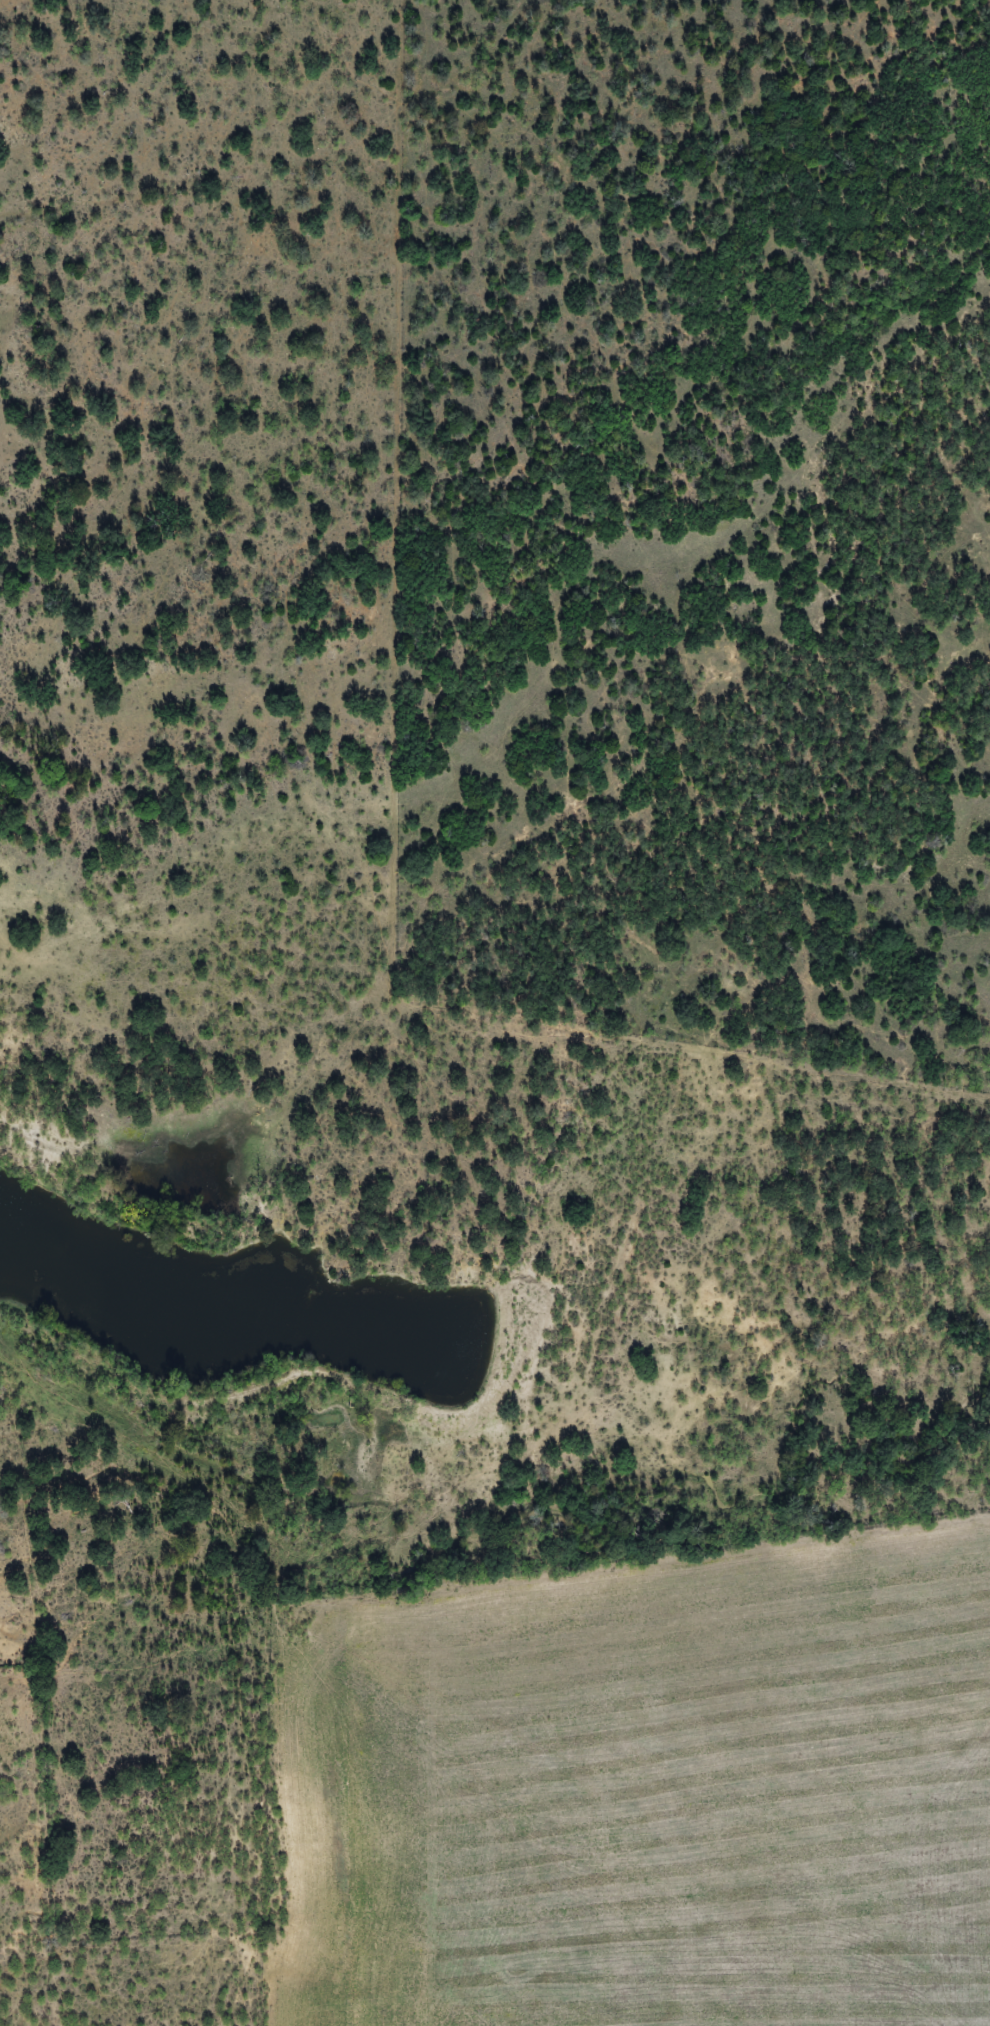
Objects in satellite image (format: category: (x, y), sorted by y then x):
road: (357, 1295)

